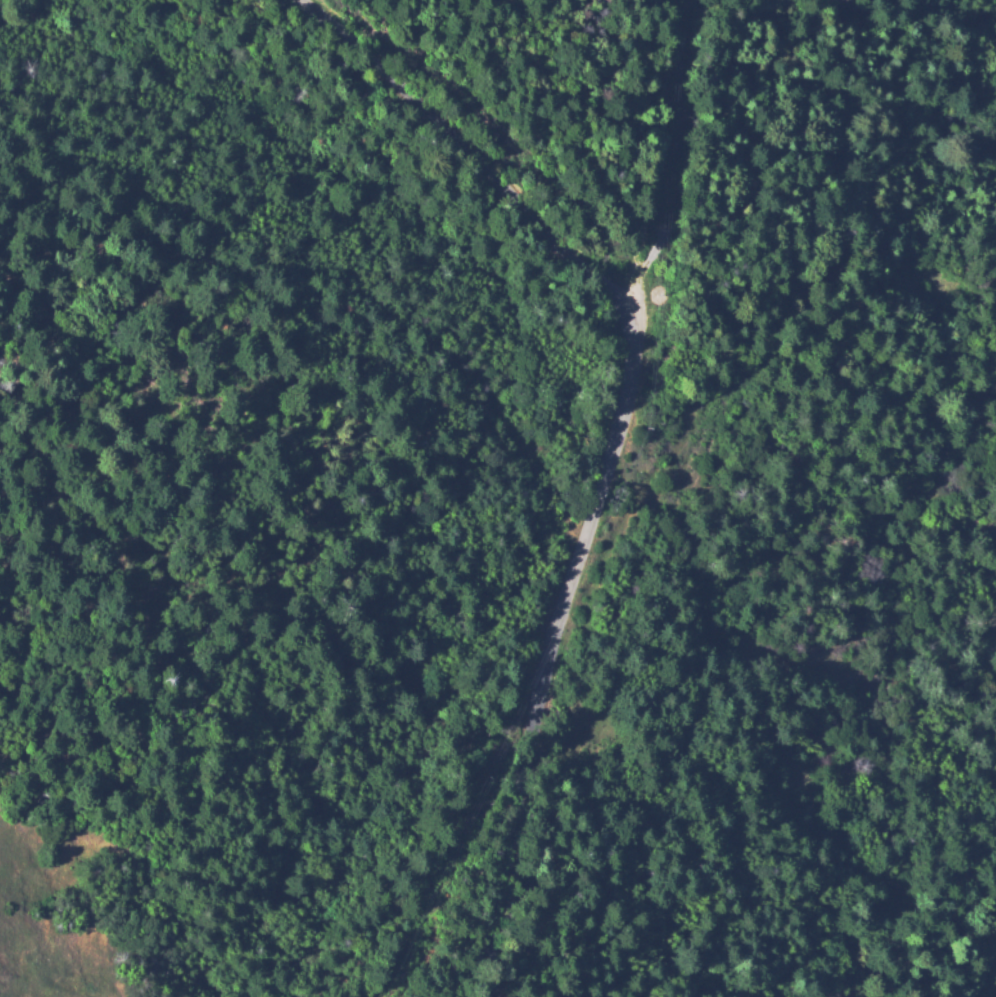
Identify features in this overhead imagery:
road: (751, 409)
road: (623, 437)

